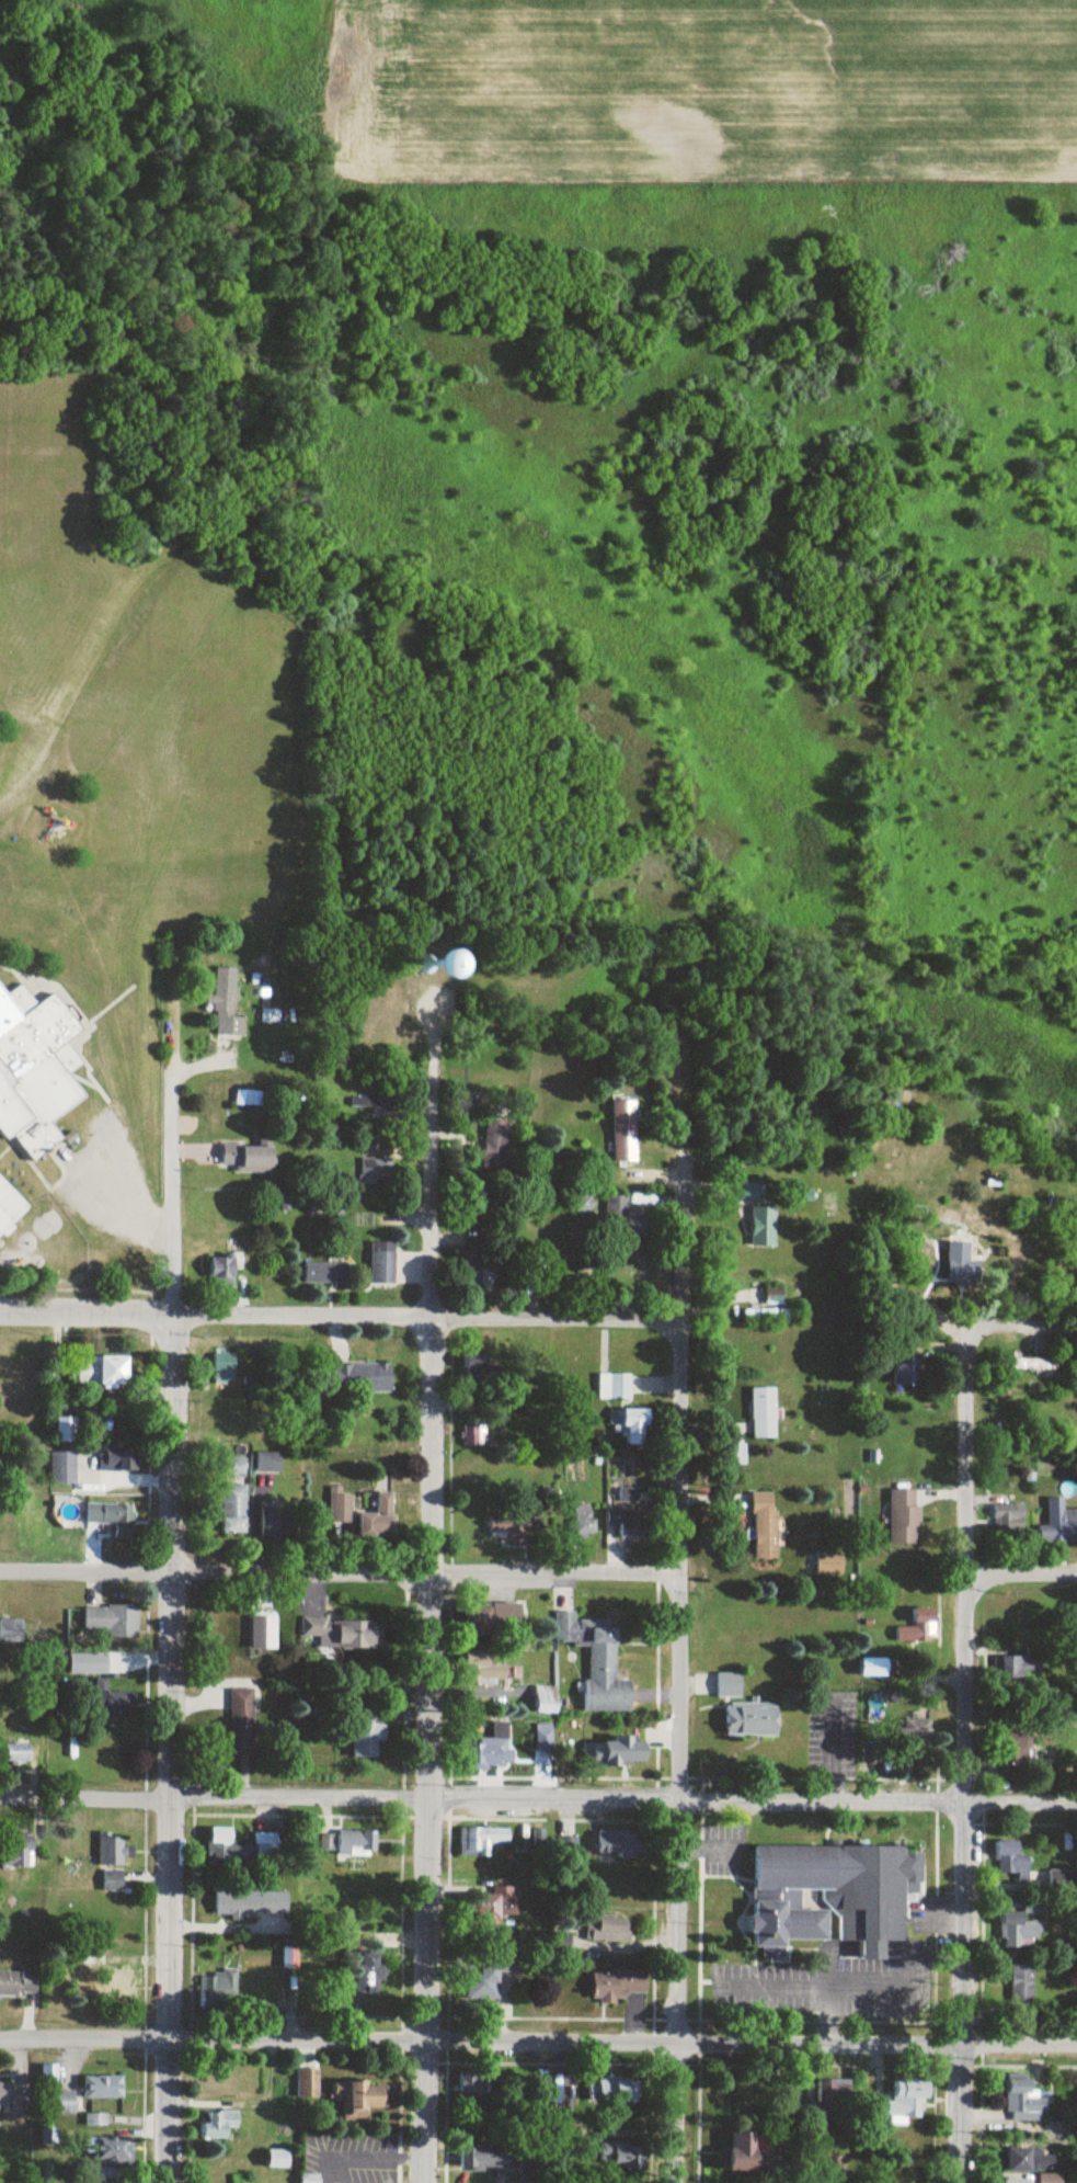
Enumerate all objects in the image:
water tower: (422, 962)
building: (436, 968)
building: (227, 1003)
building: (272, 1016)
building: (35, 1072)
building: (373, 1108)
building: (623, 1132)
building: (495, 1146)
building: (250, 1158)
building: (377, 1170)
building: (749, 1192)
road: (124, 1210)
building: (7, 1215)
building: (625, 1218)
building: (763, 1227)
building: (383, 1263)
building: (962, 1265)
building: (226, 1266)
building: (325, 1274)
building: (488, 1280)
building: (774, 1296)
road: (215, 1315)
building: (759, 1316)
road: (557, 1320)
road: (1023, 1328)
building: (1031, 1365)
building: (225, 1368)
building: (476, 1371)
building: (99, 1373)
building: (908, 1373)
building: (357, 1379)
building: (620, 1388)
building: (764, 1413)
building: (630, 1425)
building: (117, 1459)
building: (62, 1470)
building: (339, 1509)
building: (233, 1510)
building: (629, 1514)
building: (110, 1515)
building: (905, 1517)
building: (377, 1521)
building: (584, 1522)
building: (1009, 1522)
building: (1061, 1523)
building: (282, 1525)
building: (766, 1526)
building: (514, 1530)
building: (830, 1565)
road: (217, 1571)
road: (558, 1577)
road: (1020, 1579)
road: (434, 1599)
building: (490, 1621)
building: (111, 1622)
building: (919, 1628)
building: (11, 1631)
road: (170, 1631)
building: (340, 1635)
building: (597, 1664)
building: (1021, 1667)
road: (680, 1673)
building: (115, 1702)
building: (743, 1712)
building: (243, 1721)
building: (365, 1733)
building: (916, 1733)
building: (543, 1739)
building: (492, 1749)
building: (1017, 1750)
building: (16, 1754)
building: (615, 1754)
road: (961, 1754)
road: (215, 1798)
road: (753, 1801)
building: (488, 1841)
building: (358, 1843)
building: (221, 1844)
building: (621, 1844)
building: (113, 1850)
building: (20, 1851)
building: (1011, 1861)
building: (1063, 1879)
building: (832, 1896)
building: (252, 1903)
building: (491, 1908)
building: (607, 1929)
building: (1018, 1931)
building: (289, 1957)
building: (366, 1974)
building: (490, 1976)
building: (19, 1983)
building: (1021, 1983)
building: (116, 1986)
building: (219, 1986)
building: (617, 1986)
road: (213, 2038)
road: (751, 2046)
building: (307, 2083)
building: (476, 2083)
building: (102, 2088)
building: (617, 2094)
building: (359, 2099)
building: (825, 2099)
building: (16, 2100)
building: (903, 2101)
building: (60, 2102)
building: (1022, 2102)
building: (218, 2124)
building: (741, 2152)
building: (484, 2157)
building: (622, 2158)
building: (110, 2159)
building: (276, 2160)
building: (1032, 2160)
building: (529, 2170)
building: (1013, 2179)

